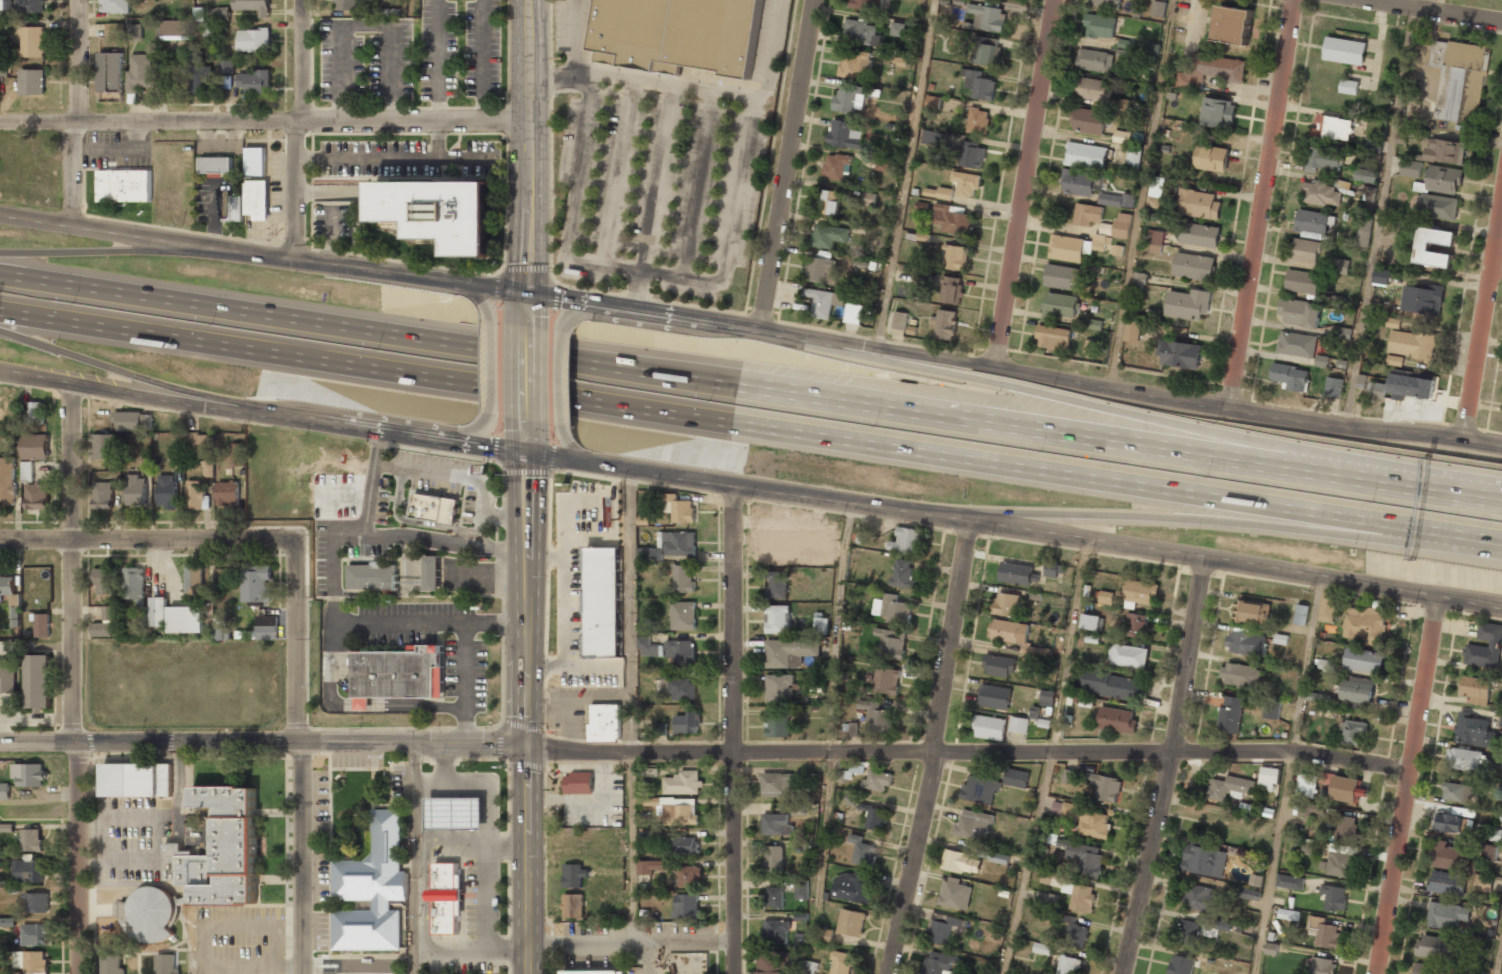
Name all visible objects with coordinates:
building: (5, 4)
building: (867, 4)
building: (1106, 4)
road: (1411, 4)
building: (348, 5)
building: (30, 6)
building: (251, 6)
building: (115, 7)
road: (189, 7)
building: (1158, 8)
road: (1429, 12)
building: (199, 14)
building: (220, 14)
building: (988, 17)
building: (1233, 24)
building: (1100, 26)
building: (173, 28)
building: (210, 29)
building: (897, 29)
building: (114, 30)
building: (862, 32)
building: (134, 33)
building: (678, 34)
building: (253, 41)
building: (31, 42)
building: (1152, 47)
building: (1345, 50)
building: (988, 51)
building: (975, 55)
building: (1095, 60)
road: (415, 61)
building: (226, 66)
building: (855, 66)
building: (3, 69)
building: (1210, 70)
building: (140, 73)
building: (198, 75)
building: (110, 77)
building: (1458, 77)
building: (31, 82)
building: (226, 82)
building: (254, 83)
building: (979, 85)
building: (1349, 86)
building: (1094, 89)
building: (845, 101)
building: (1121, 105)
road: (83, 110)
building: (1217, 112)
building: (979, 120)
building: (1089, 121)
road: (264, 122)
building: (1333, 128)
road: (303, 131)
building: (845, 134)
building: (934, 137)
building: (1122, 137)
building: (1375, 145)
building: (1445, 151)
building: (972, 155)
building: (1086, 156)
building: (1134, 156)
road: (529, 157)
building: (1211, 158)
building: (1323, 159)
building: (255, 162)
building: (881, 165)
building: (216, 166)
road: (785, 166)
building: (836, 166)
building: (1410, 168)
road: (904, 175)
building: (1444, 179)
building: (1081, 182)
building: (966, 184)
building: (119, 185)
road: (1027, 185)
building: (1155, 192)
building: (938, 193)
building: (1321, 193)
road: (1141, 194)
building: (869, 196)
building: (1116, 200)
building: (831, 202)
building: (246, 203)
building: (1199, 204)
road: (1260, 204)
building: (1437, 206)
building: (1087, 214)
road: (1378, 217)
building: (428, 218)
building: (952, 219)
building: (1314, 221)
building: (1122, 225)
building: (1365, 226)
building: (1199, 234)
building: (829, 235)
building: (1155, 241)
building: (1076, 247)
building: (1422, 248)
building: (1305, 250)
road: (118, 251)
building: (954, 257)
road: (1499, 257)
building: (1193, 266)
building: (1341, 266)
building: (822, 270)
building: (1382, 276)
building: (1062, 277)
building: (1139, 281)
building: (1302, 281)
building: (951, 290)
road: (470, 294)
traffic signals: (530, 295)
building: (1422, 299)
building: (824, 302)
building: (1188, 304)
building: (1060, 306)
building: (1299, 312)
road: (600, 313)
building: (853, 313)
building: (900, 320)
building: (945, 324)
building: (1094, 324)
road: (368, 327)
road: (750, 330)
building: (1132, 330)
road: (1483, 330)
building: (1340, 333)
building: (1053, 338)
building: (1297, 344)
building: (1411, 344)
building: (1091, 346)
building: (1179, 354)
building: (1394, 360)
building: (1321, 361)
road: (501, 367)
road: (529, 368)
road: (130, 374)
building: (1291, 377)
road: (562, 379)
building: (1361, 381)
building: (1411, 387)
building: (1334, 388)
building: (1376, 390)
road: (708, 408)
building: (35, 412)
road: (1061, 412)
road: (264, 415)
building: (130, 422)
road: (1022, 429)
road: (474, 434)
road: (529, 437)
building: (192, 440)
building: (103, 447)
building: (34, 448)
road: (571, 448)
building: (699, 448)
building: (237, 454)
traffic signals: (529, 454)
building: (146, 463)
building: (207, 470)
building: (27, 471)
building: (7, 482)
road: (372, 482)
road: (1404, 488)
building: (135, 491)
building: (166, 493)
building: (227, 494)
building: (102, 496)
building: (194, 496)
building: (36, 497)
building: (679, 508)
building: (428, 509)
road: (1153, 515)
road: (1016, 527)
road: (1458, 531)
road: (148, 539)
road: (446, 540)
building: (778, 541)
building: (908, 541)
building: (679, 543)
road: (331, 553)
building: (649, 554)
building: (1053, 569)
building: (902, 573)
building: (1018, 573)
building: (432, 574)
building: (368, 576)
building: (684, 578)
building: (194, 581)
building: (103, 582)
building: (7, 585)
building: (135, 585)
building: (257, 585)
building: (777, 585)
building: (1140, 592)
building: (1106, 597)
building: (602, 602)
building: (1007, 604)
building: (1327, 607)
building: (893, 609)
building: (159, 612)
building: (1252, 612)
building: (109, 613)
building: (1301, 614)
building: (683, 616)
building: (777, 619)
building: (220, 620)
building: (186, 621)
building: (1364, 624)
building: (821, 625)
building: (1135, 625)
building: (41, 626)
building: (267, 627)
road: (837, 627)
building: (102, 630)
building: (1009, 631)
building: (1281, 638)
building: (1246, 642)
building: (891, 643)
building: (1485, 646)
building: (649, 648)
building: (681, 651)
building: (1039, 651)
building: (789, 652)
building: (1128, 656)
building: (1363, 660)
building: (1000, 665)
building: (1326, 665)
building: (400, 672)
building: (1241, 674)
building: (7, 676)
road: (76, 679)
building: (886, 680)
building: (38, 682)
building: (1111, 684)
building: (677, 686)
building: (779, 688)
building: (1476, 689)
building: (1357, 690)
building: (994, 696)
building: (1318, 697)
building: (1047, 698)
road: (629, 704)
building: (1271, 709)
road: (526, 713)
building: (1231, 714)
building: (876, 716)
building: (1117, 720)
building: (1500, 721)
building: (601, 722)
building: (687, 723)
building: (1018, 725)
building: (778, 726)
building: (990, 727)
building: (660, 729)
road: (732, 730)
building: (1475, 731)
building: (1352, 733)
road: (262, 741)
traffic signals: (526, 743)
road: (936, 748)
road: (969, 750)
road: (300, 756)
road: (1050, 758)
building: (1463, 760)
road: (1169, 768)
building: (28, 775)
building: (1070, 776)
road: (1289, 777)
building: (1016, 778)
building: (1268, 779)
building: (136, 780)
building: (877, 781)
building: (574, 782)
building: (683, 783)
building: (777, 784)
building: (1306, 785)
building: (1106, 787)
road: (1408, 787)
building: (1230, 788)
building: (1347, 789)
building: (980, 790)
building: (4, 792)
building: (1457, 792)
building: (797, 808)
building: (1305, 809)
building: (680, 811)
building: (455, 813)
gas station: (455, 813)
building: (875, 816)
building: (1084, 818)
building: (972, 823)
building: (1448, 823)
building: (776, 825)
building: (1346, 828)
parking lot: (151, 831)
building: (1496, 835)
building: (1050, 838)
building: (31, 841)
road: (824, 841)
building: (683, 845)
building: (809, 847)
building: (1306, 847)
building: (220, 850)
building: (863, 851)
building: (1490, 852)
building: (1448, 856)
road: (413, 858)
building: (1001, 858)
building: (773, 859)
building: (1085, 859)
building: (1204, 860)
building: (1342, 860)
building: (0, 861)
building: (961, 862)
building: (651, 866)
building: (28, 872)
building: (575, 875)
building: (690, 876)
building: (1256, 880)
building: (1289, 881)
building: (1447, 883)
building: (1483, 883)
building: (852, 888)
building: (801, 889)
building: (1071, 889)
building: (372, 890)
building: (955, 893)
building: (1250, 894)
building: (775, 897)
building: (1334, 897)
building: (446, 898)
building: (1201, 898)
building: (1049, 899)
building: (35, 903)
building: (573, 906)
building: (686, 906)
building: (151, 914)
building: (1288, 914)
building: (1447, 915)
building: (7, 922)
building: (851, 922)
building: (945, 928)
building: (777, 931)
building: (1075, 933)
building: (1325, 933)
building: (827, 934)
building: (34, 935)
building: (1188, 936)
parking lot: (240, 940)
road: (629, 941)
building: (1435, 947)
building: (1043, 949)
building: (1271, 949)
road: (647, 957)
road: (1499, 960)
building: (1501, 961)
building: (772, 962)
building: (35, 963)
building: (841, 963)
building: (939, 963)
building: (166, 964)
building: (112, 965)
building: (1068, 965)
building: (1181, 965)
building: (1322, 966)
building: (809, 967)
building: (1427, 969)
building: (594, 972)

